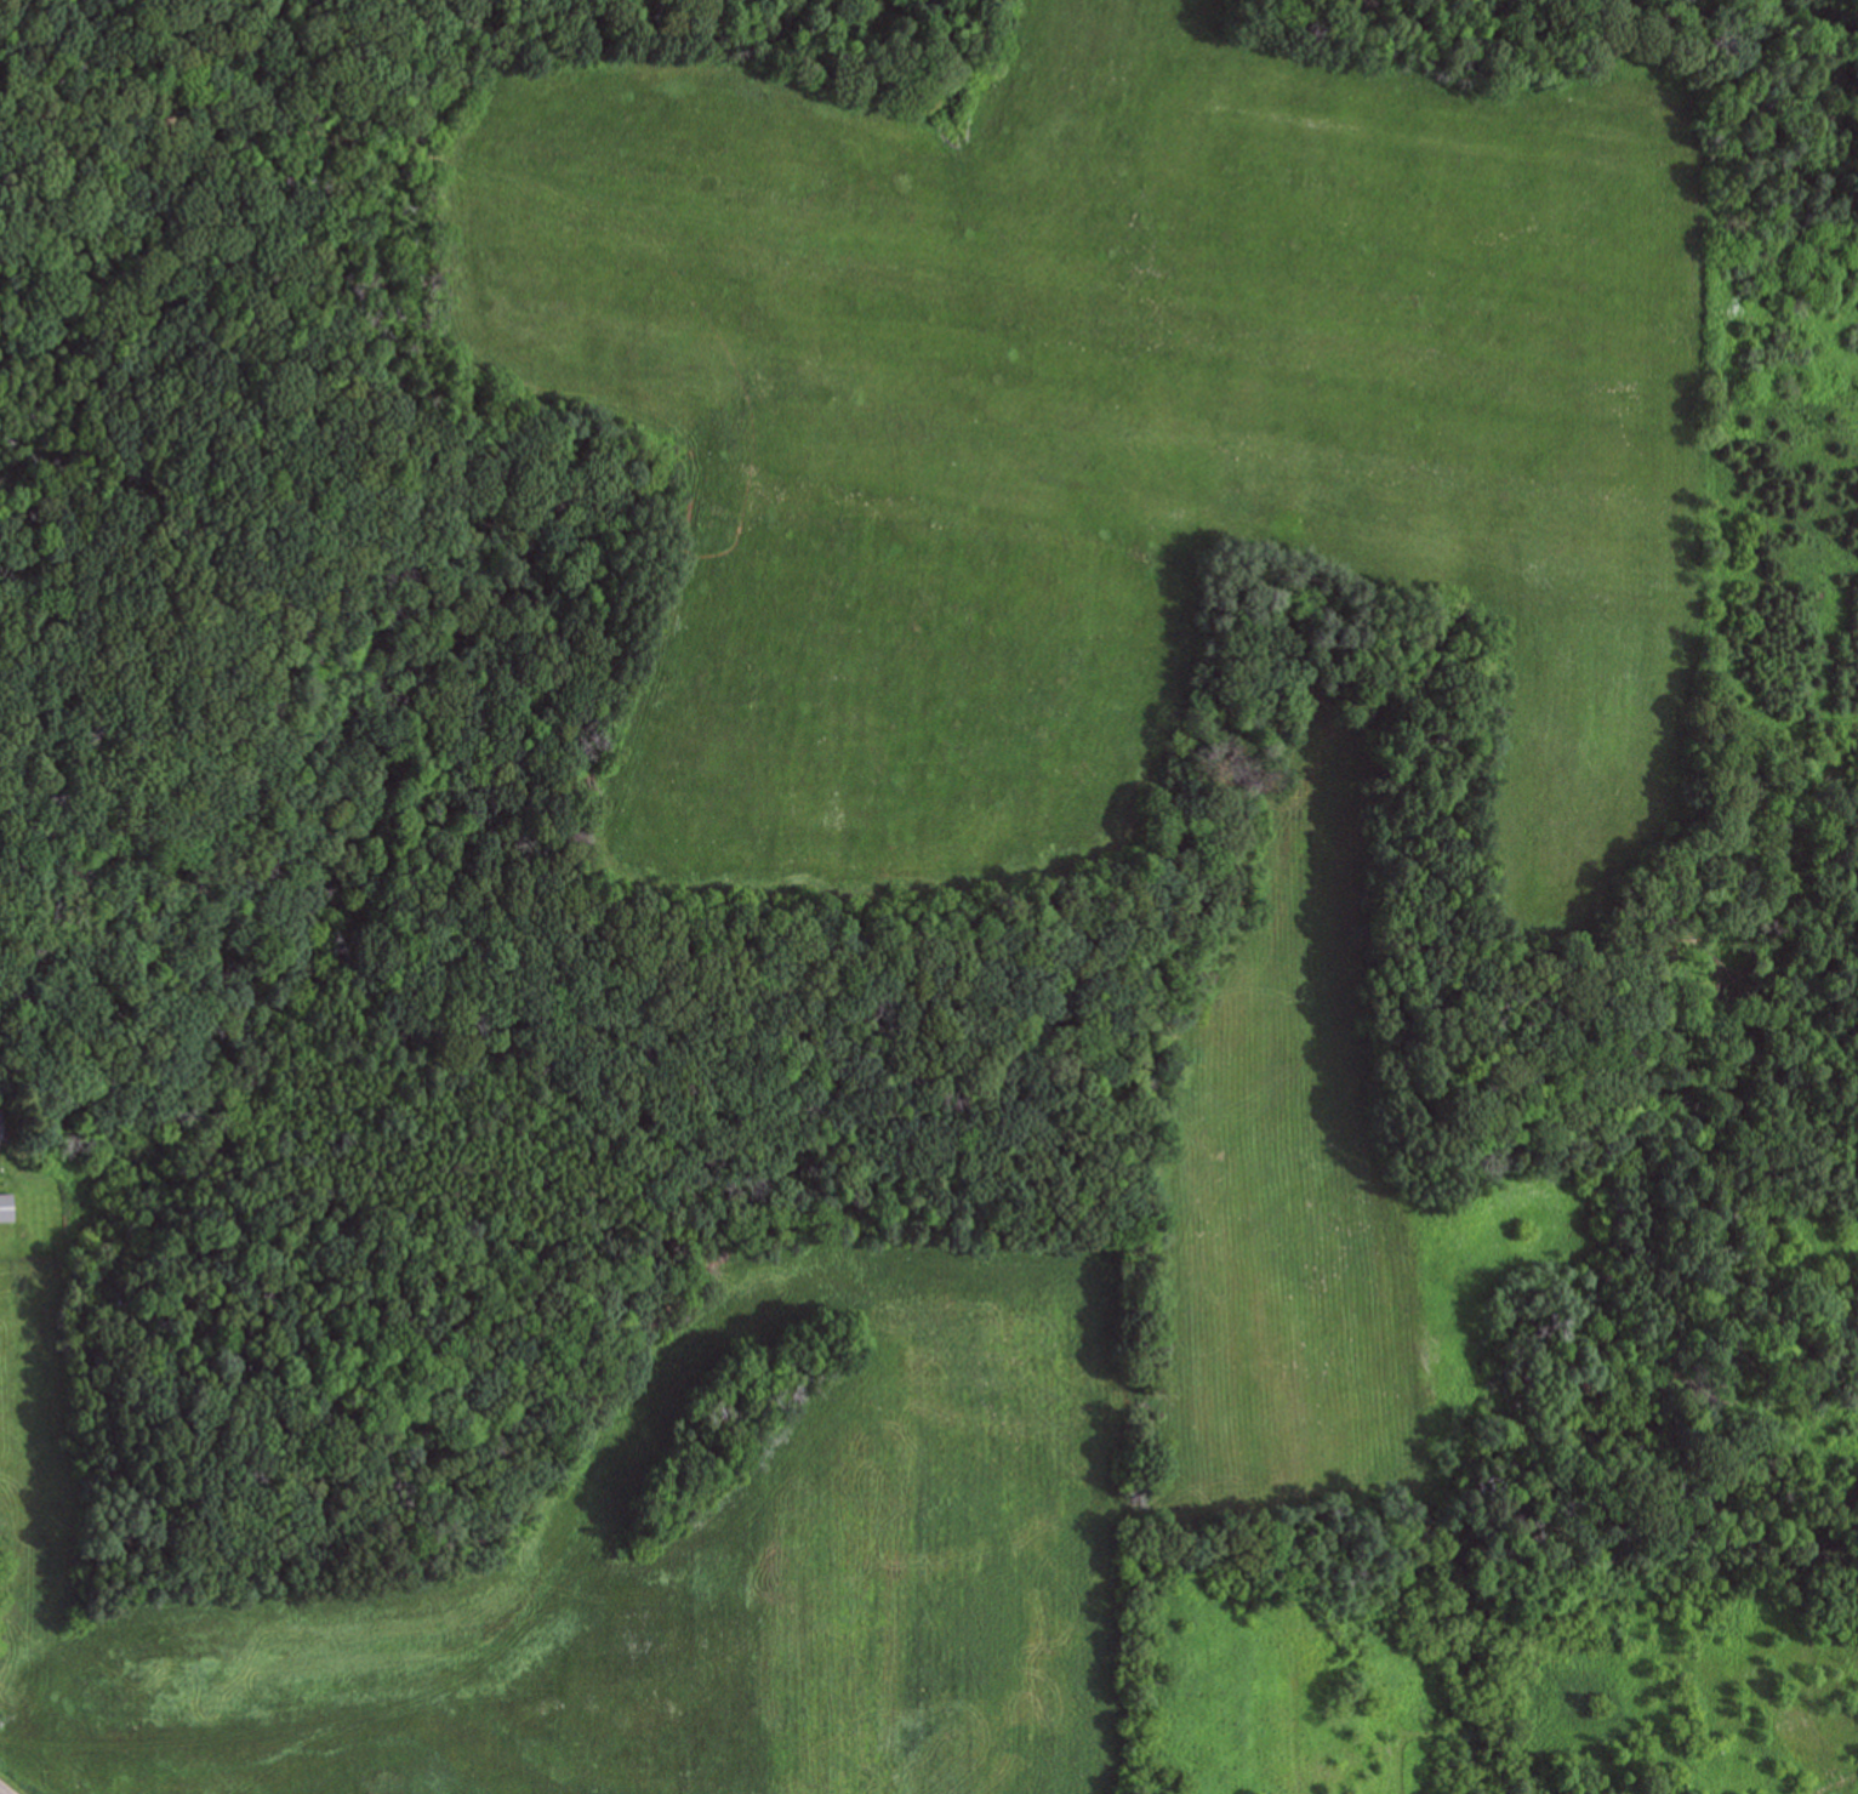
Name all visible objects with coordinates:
crop: (1113, 421)
building: (4, 1124)
crop: (1318, 1196)
building: (8, 1207)
crop: (643, 1594)
road: (1, 1792)

